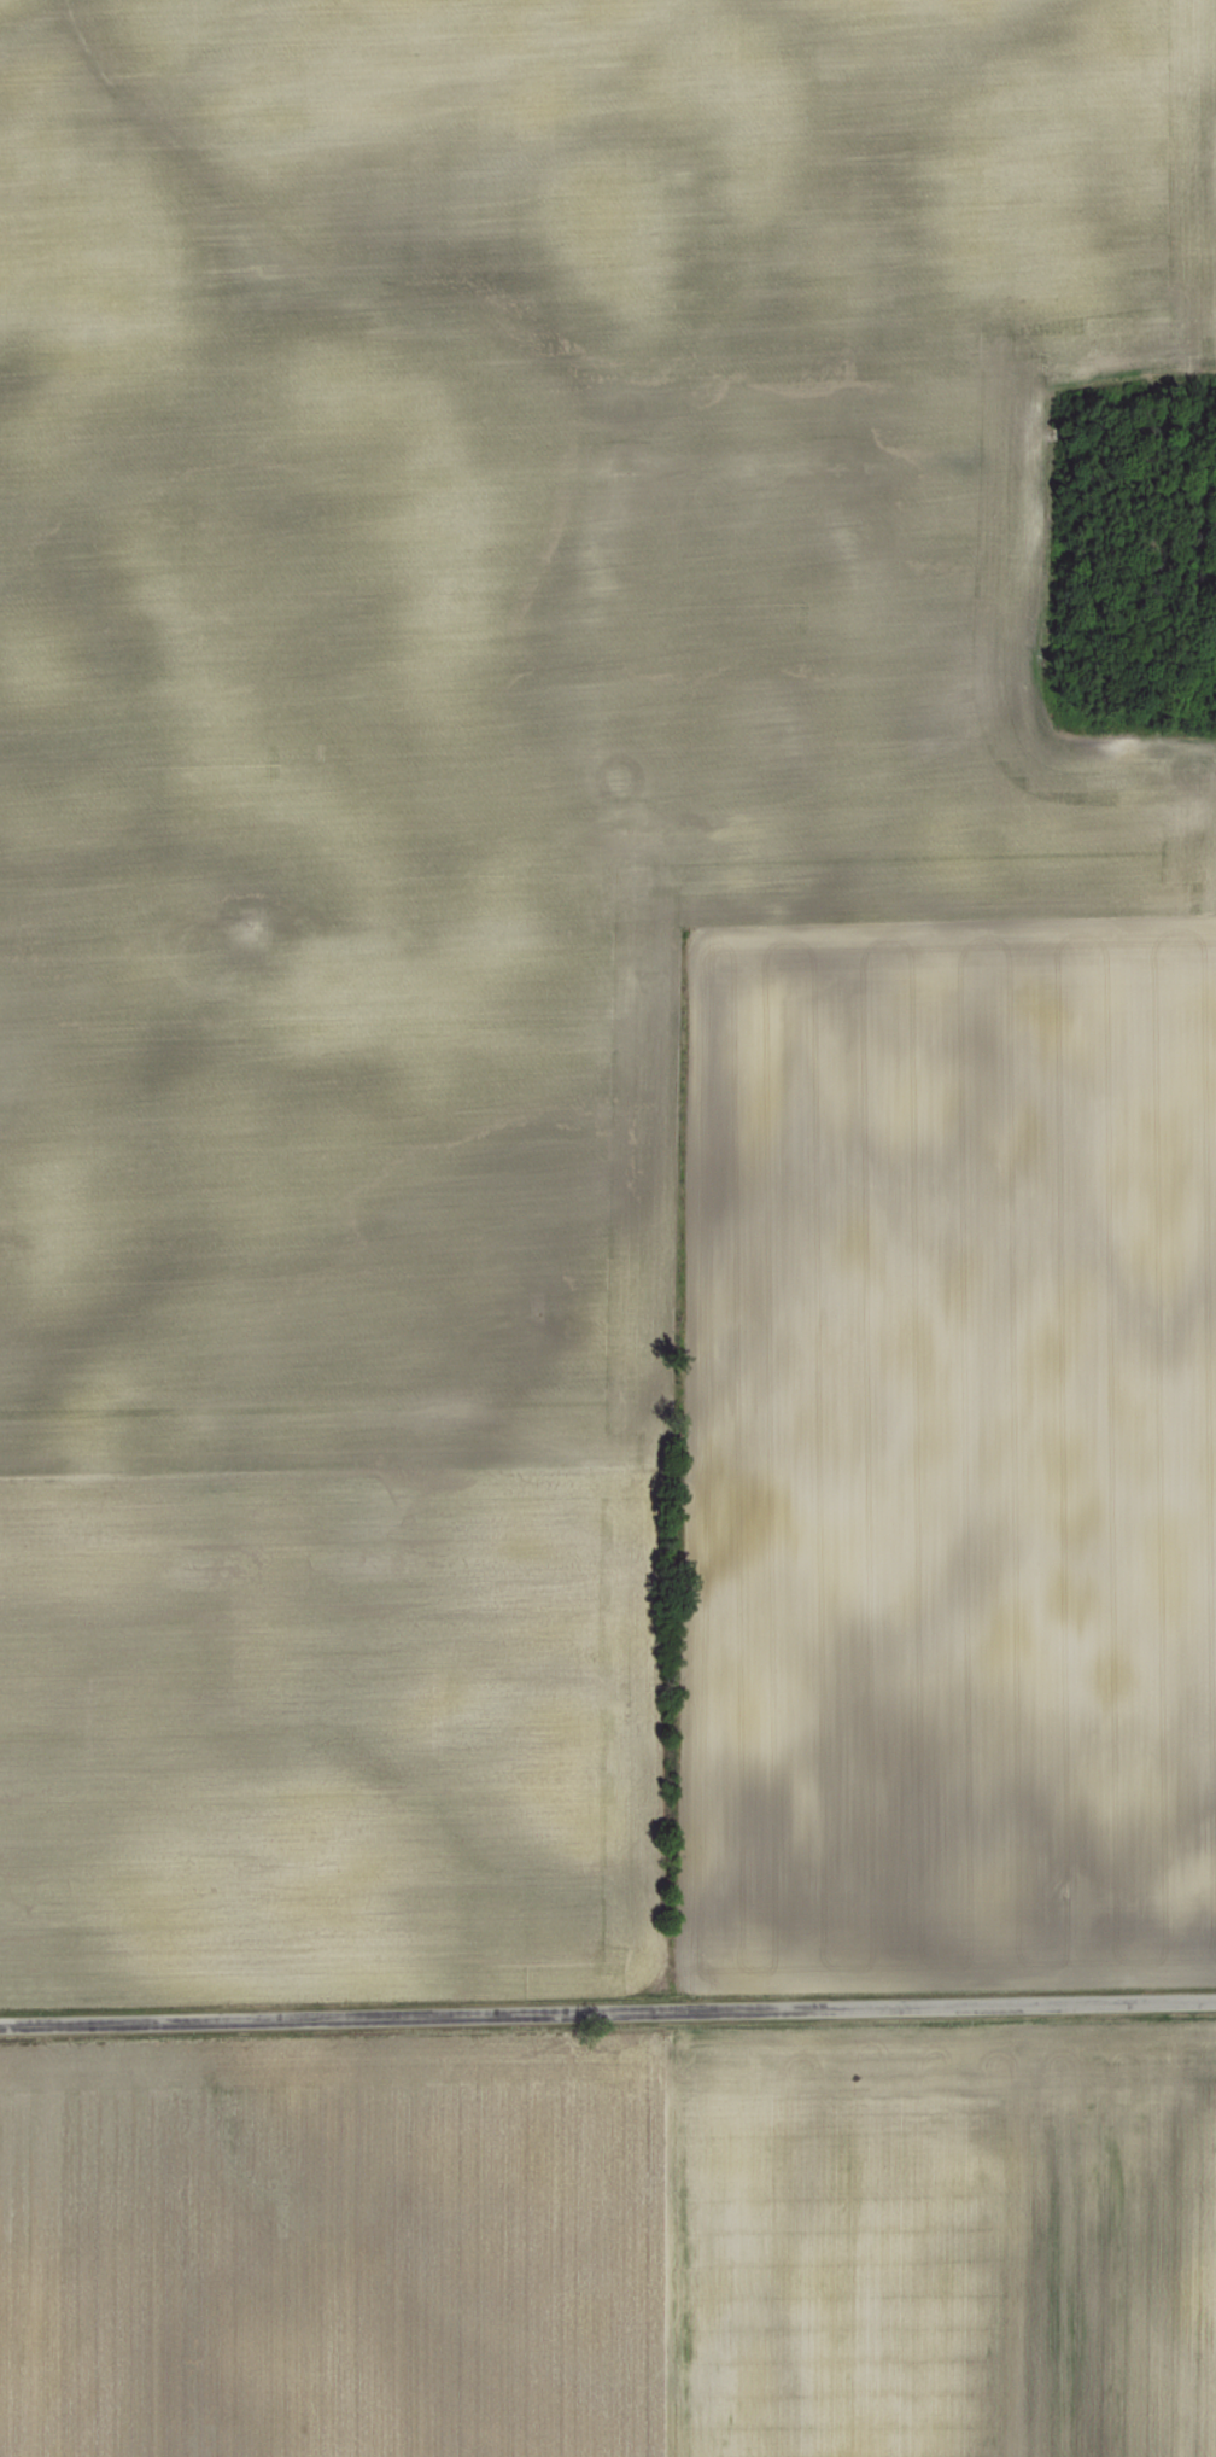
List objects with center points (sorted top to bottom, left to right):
road: (608, 2013)

